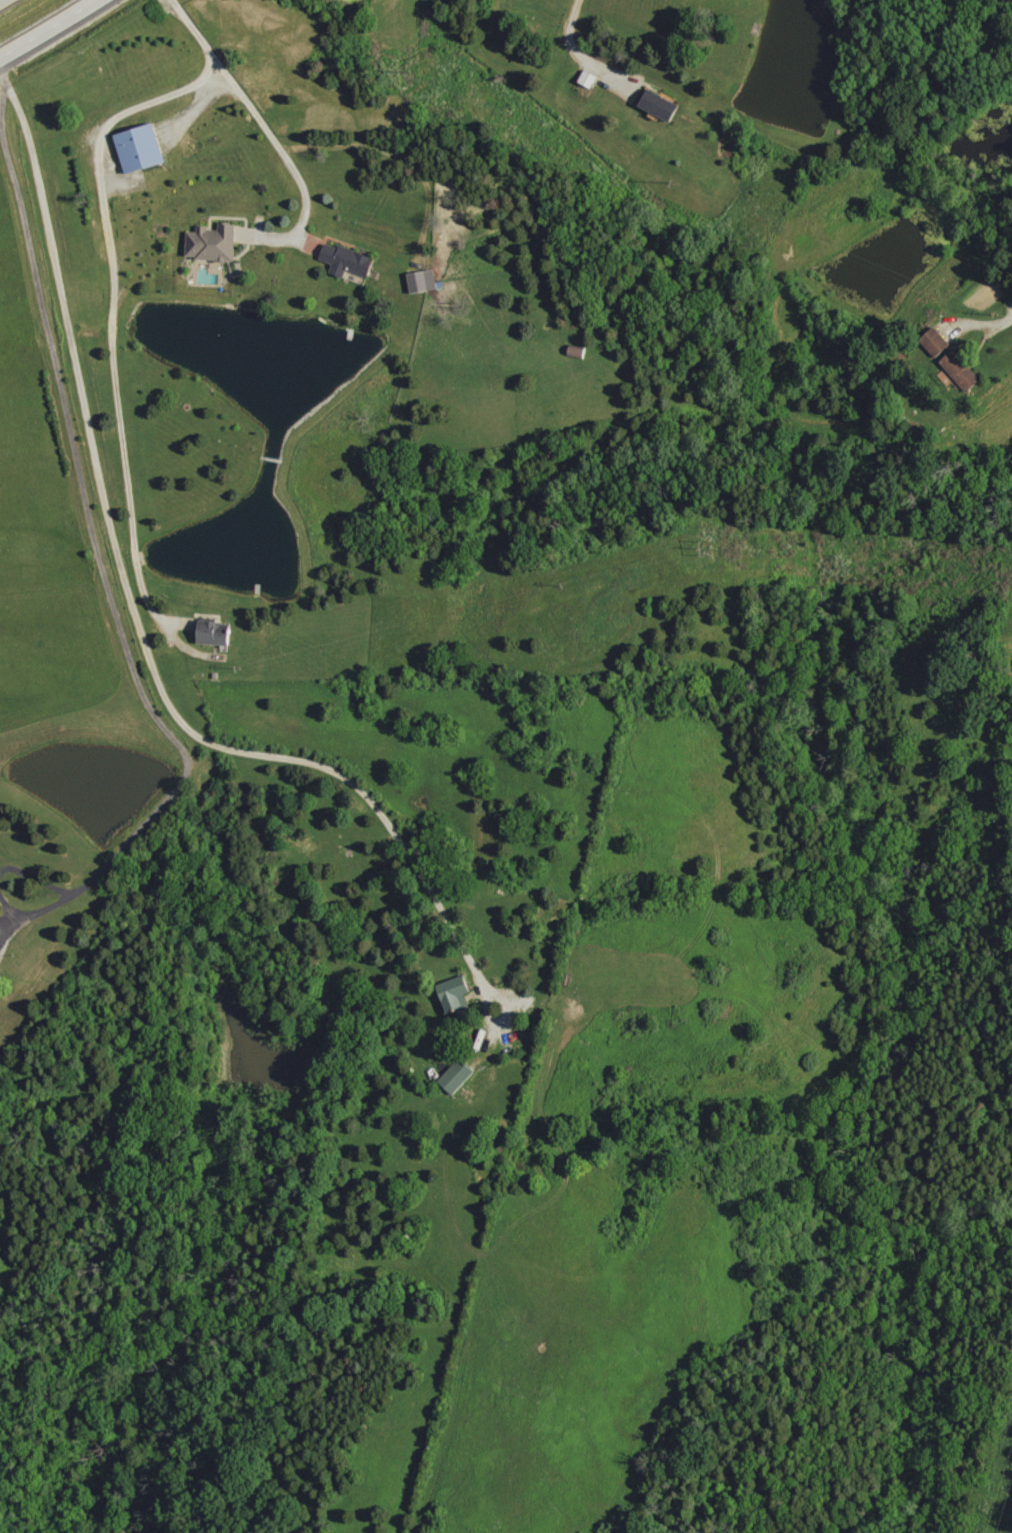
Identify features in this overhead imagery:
road: (0, 0)
road: (50, 30)
road: (583, 55)
building: (661, 104)
road: (250, 108)
road: (100, 135)
building: (141, 148)
building: (213, 242)
building: (347, 260)
building: (424, 281)
road: (992, 323)
building: (936, 341)
building: (962, 370)
road: (119, 436)
road: (91, 525)
building: (215, 632)
road: (147, 646)
road: (9, 911)
building: (455, 994)
building: (457, 1076)

